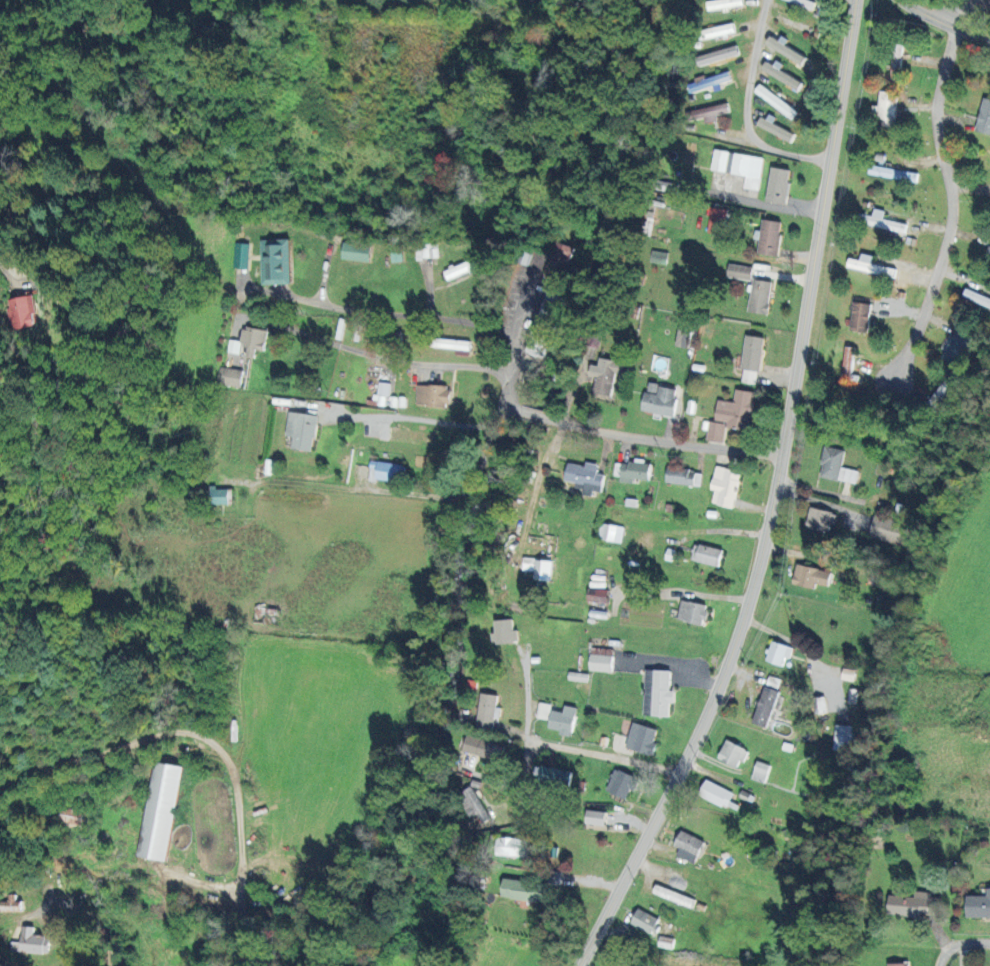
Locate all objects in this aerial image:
building: (800, 3)
building: (723, 4)
road: (963, 13)
road: (945, 22)
building: (716, 31)
building: (786, 50)
building: (717, 56)
building: (895, 62)
building: (708, 82)
building: (775, 102)
road: (747, 109)
building: (885, 109)
building: (713, 112)
building: (984, 118)
building: (775, 129)
building: (739, 167)
building: (777, 186)
road: (948, 218)
building: (716, 221)
building: (884, 222)
building: (769, 238)
building: (426, 251)
building: (355, 252)
building: (240, 255)
building: (658, 257)
building: (557, 260)
building: (275, 261)
building: (870, 266)
building: (461, 268)
building: (739, 272)
building: (759, 297)
building: (977, 297)
building: (22, 312)
road: (522, 315)
road: (419, 316)
building: (860, 317)
building: (544, 325)
building: (684, 325)
building: (682, 339)
building: (246, 343)
building: (448, 344)
building: (959, 345)
road: (398, 359)
building: (751, 359)
building: (603, 375)
building: (229, 377)
building: (432, 395)
building: (937, 397)
building: (659, 399)
road: (499, 414)
road: (532, 414)
building: (731, 415)
road: (410, 416)
building: (301, 430)
building: (410, 435)
road: (664, 442)
building: (836, 466)
building: (386, 471)
building: (633, 472)
building: (584, 477)
building: (683, 477)
building: (724, 487)
road: (400, 495)
building: (217, 496)
road: (767, 498)
building: (820, 519)
building: (887, 530)
building: (609, 531)
building: (706, 555)
building: (538, 568)
building: (810, 576)
building: (597, 595)
building: (692, 612)
building: (504, 631)
building: (778, 652)
building: (600, 662)
building: (657, 693)
building: (819, 704)
building: (764, 706)
building: (486, 710)
building: (557, 718)
building: (843, 737)
building: (641, 738)
road: (538, 739)
building: (482, 747)
building: (731, 753)
road: (622, 761)
building: (760, 771)
road: (201, 774)
building: (553, 776)
building: (621, 783)
building: (716, 793)
building: (473, 804)
building: (159, 810)
road: (532, 813)
building: (74, 817)
building: (595, 817)
building: (687, 846)
building: (511, 847)
building: (523, 889)
building: (673, 895)
building: (9, 903)
building: (912, 904)
building: (978, 905)
road: (86, 912)
building: (644, 921)
building: (32, 942)
road: (961, 945)
building: (897, 964)

